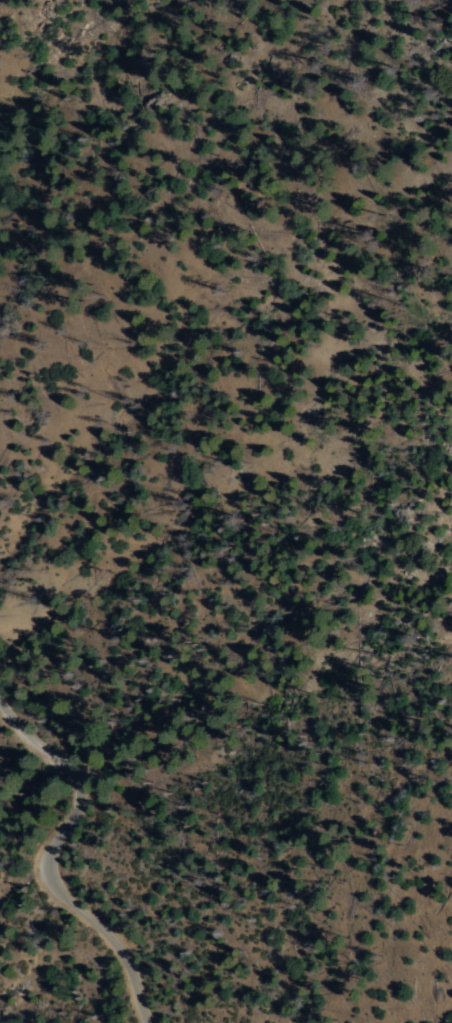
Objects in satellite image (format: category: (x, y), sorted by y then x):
road: (51, 857)

